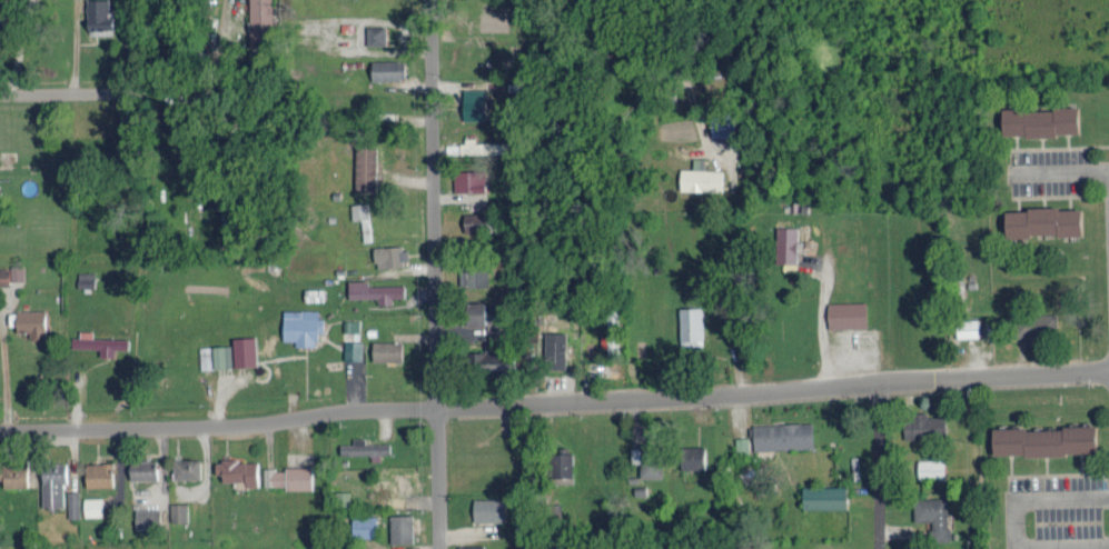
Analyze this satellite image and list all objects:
building: (98, 14)
building: (0, 16)
building: (260, 23)
building: (376, 34)
building: (388, 70)
road: (46, 92)
building: (474, 103)
building: (1041, 121)
building: (723, 124)
building: (477, 147)
building: (366, 168)
building: (701, 178)
building: (471, 181)
building: (363, 218)
building: (474, 221)
building: (1044, 222)
building: (786, 243)
building: (392, 254)
building: (10, 272)
road: (433, 274)
building: (474, 274)
building: (86, 278)
building: (375, 290)
building: (483, 311)
building: (848, 313)
building: (29, 320)
building: (691, 323)
building: (301, 325)
building: (1037, 326)
building: (968, 327)
building: (612, 331)
building: (99, 342)
building: (555, 349)
building: (245, 350)
building: (387, 350)
building: (222, 355)
building: (206, 356)
building: (487, 360)
road: (4, 372)
road: (554, 401)
building: (924, 425)
building: (783, 435)
building: (1046, 439)
building: (742, 443)
building: (364, 447)
building: (693, 456)
building: (648, 459)
building: (562, 462)
road: (877, 465)
building: (187, 467)
building: (931, 467)
building: (143, 469)
building: (239, 470)
building: (13, 472)
building: (99, 473)
building: (275, 476)
building: (299, 477)
building: (395, 480)
building: (53, 482)
building: (825, 496)
road: (761, 498)
building: (73, 503)
road: (1040, 505)
building: (92, 506)
building: (489, 509)
building: (179, 510)
building: (933, 513)
building: (148, 517)
building: (364, 525)
building: (400, 528)
road: (600, 529)
road: (602, 539)
building: (473, 546)

